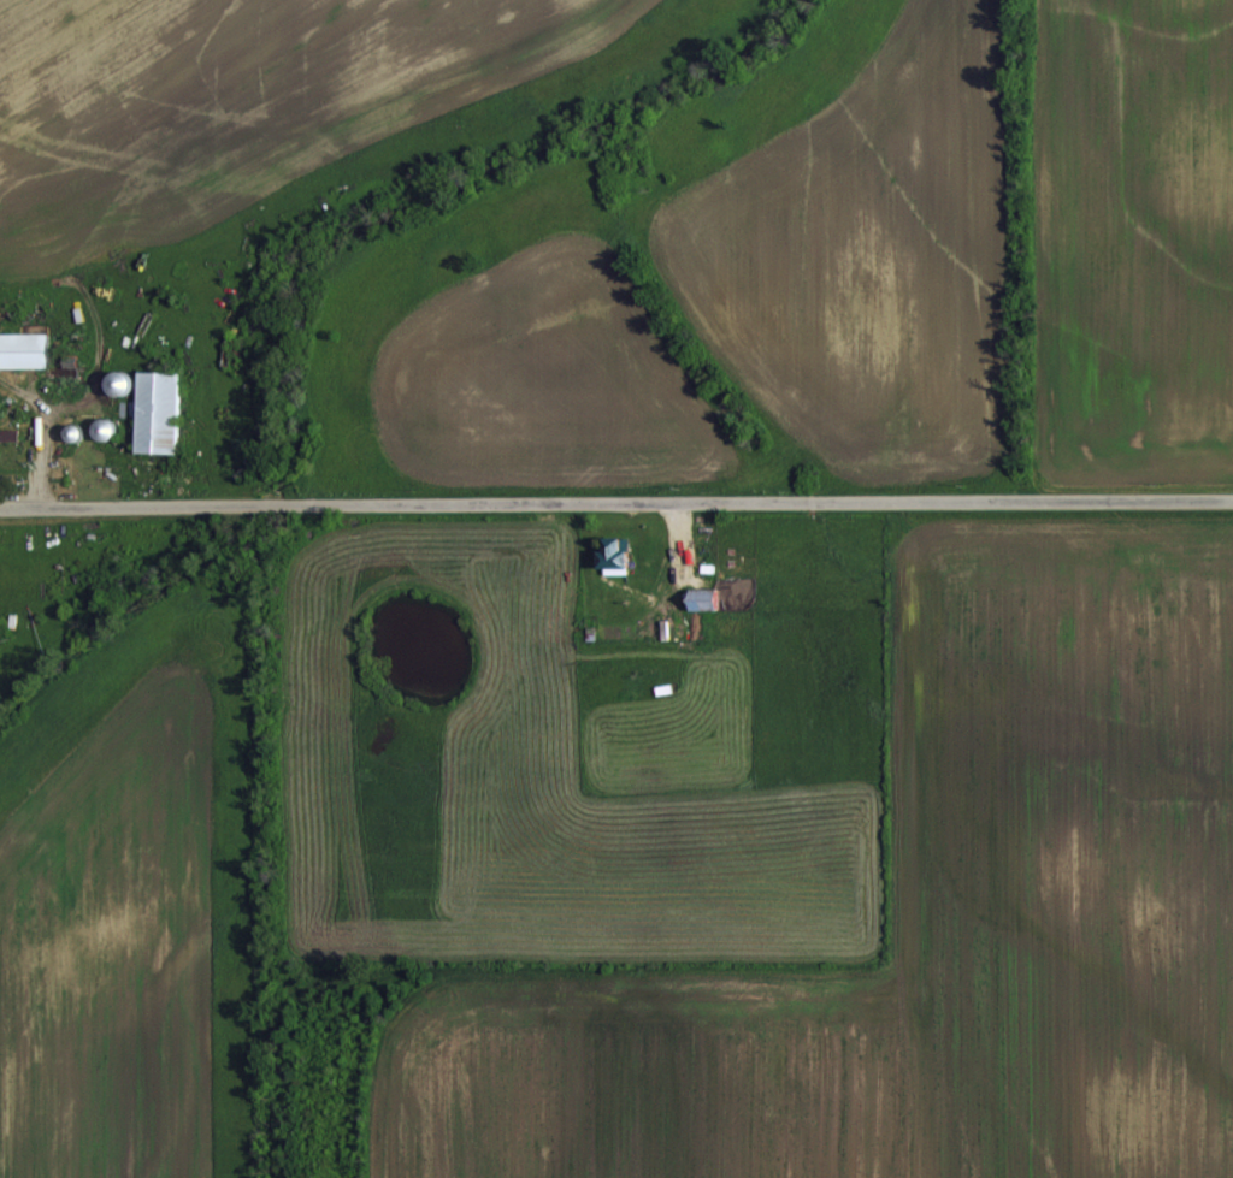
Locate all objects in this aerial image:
building: (22, 348)
building: (113, 383)
building: (154, 409)
building: (7, 432)
road: (37, 436)
road: (616, 501)
building: (698, 597)

